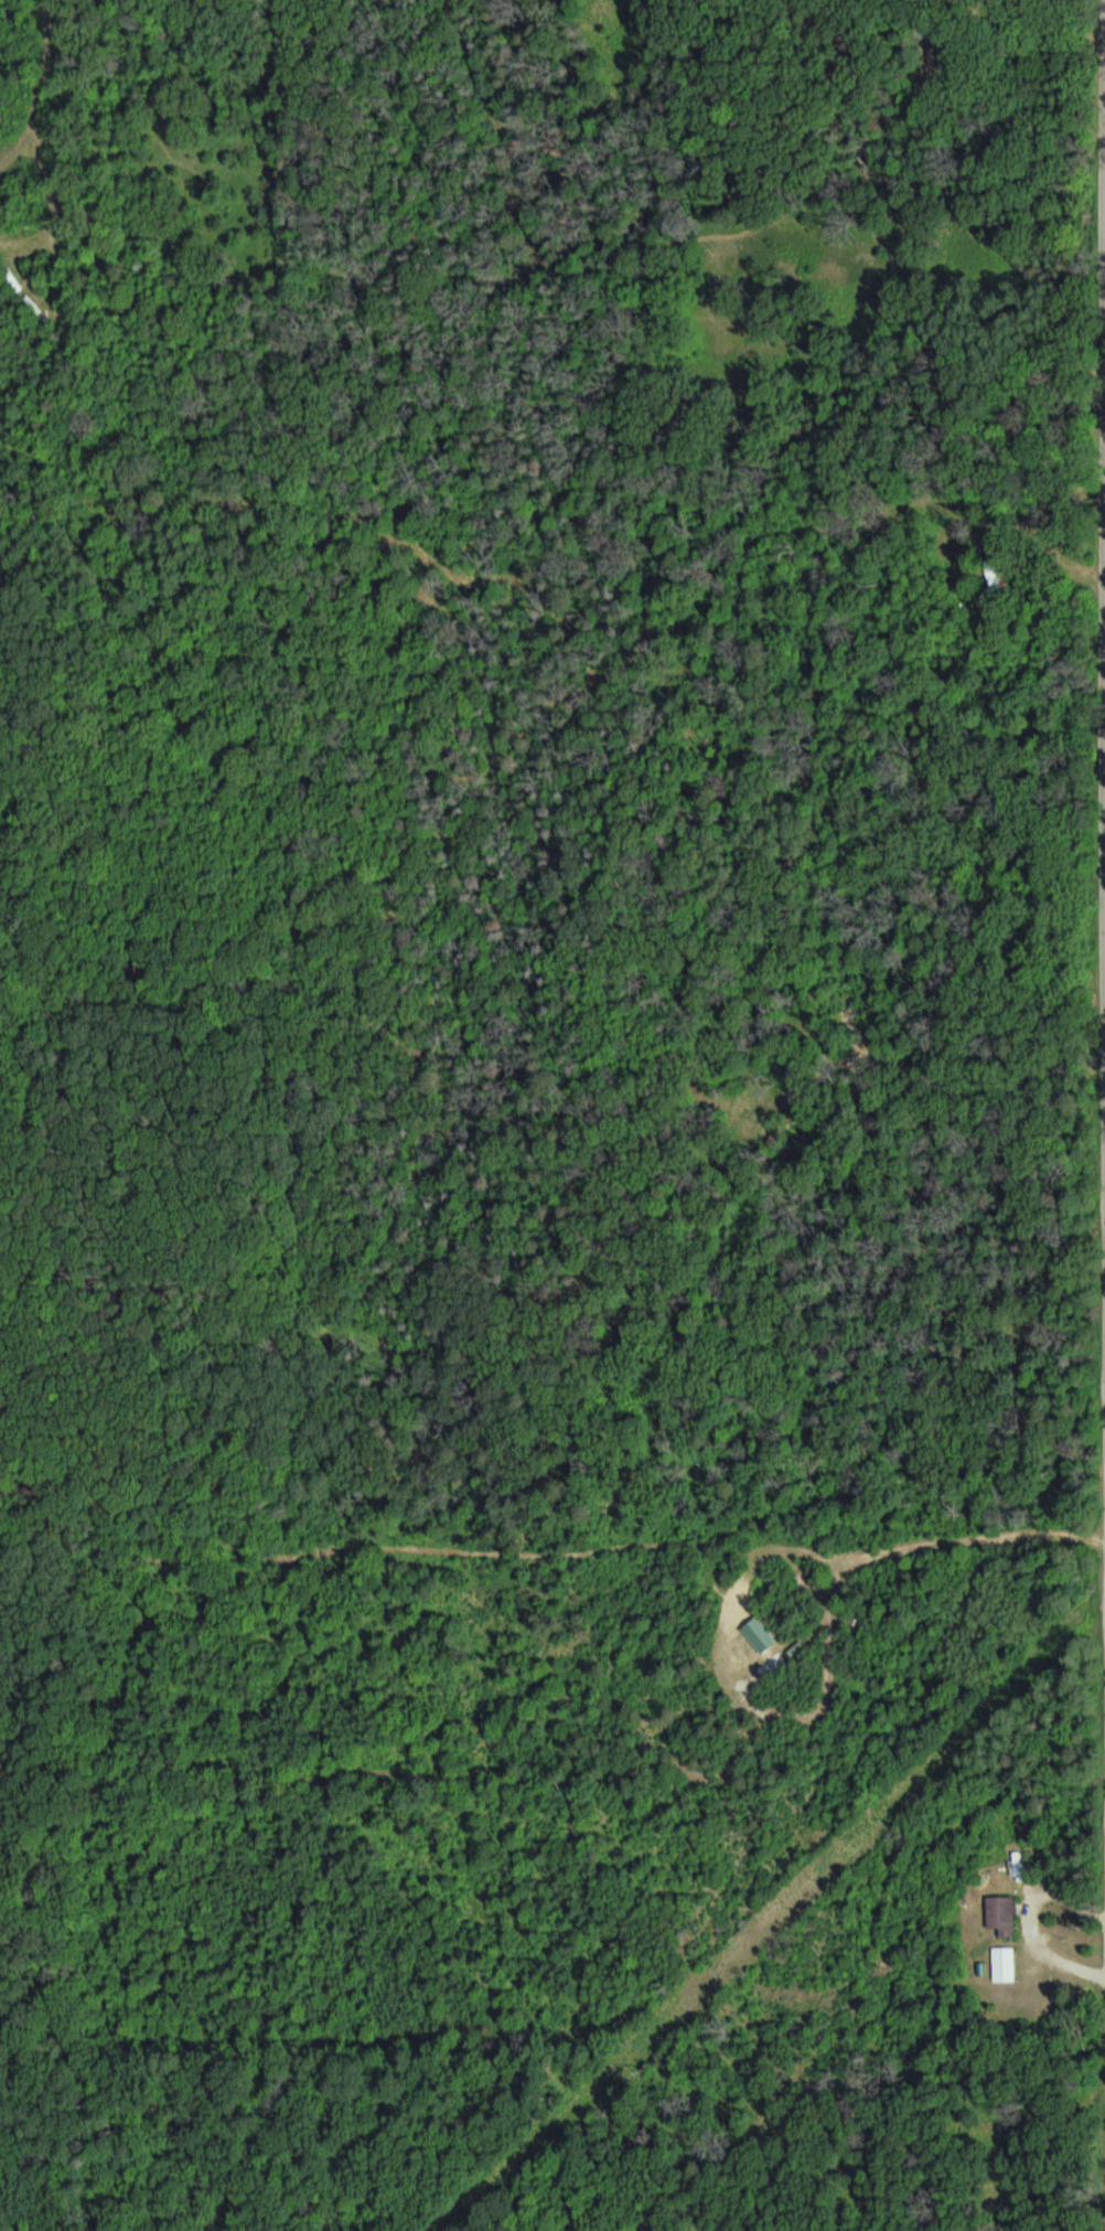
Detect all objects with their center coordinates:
building: (1005, 1914)
building: (1006, 1964)

